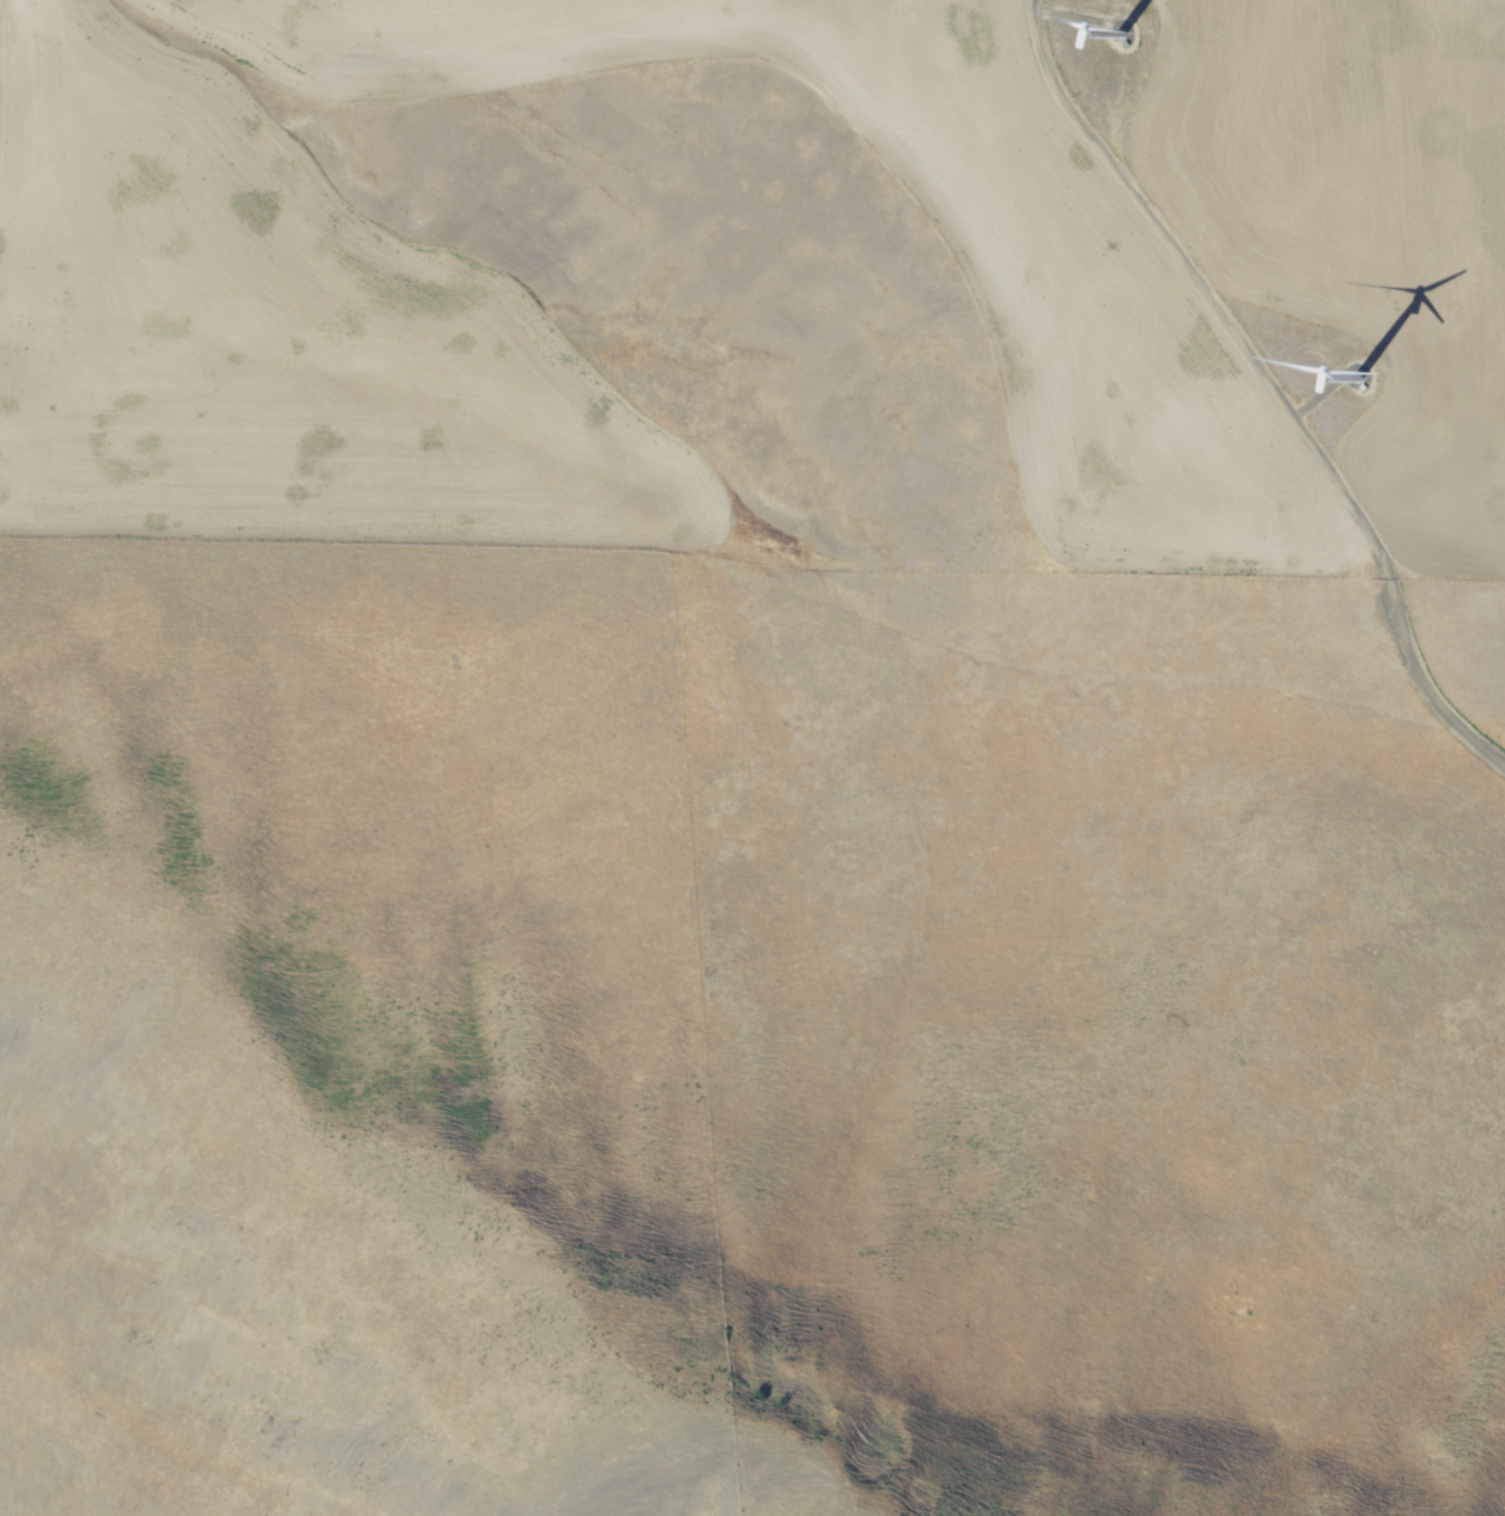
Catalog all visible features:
wind turbine: (1117, 32)
wind turbine: (1355, 375)
road: (1270, 383)

